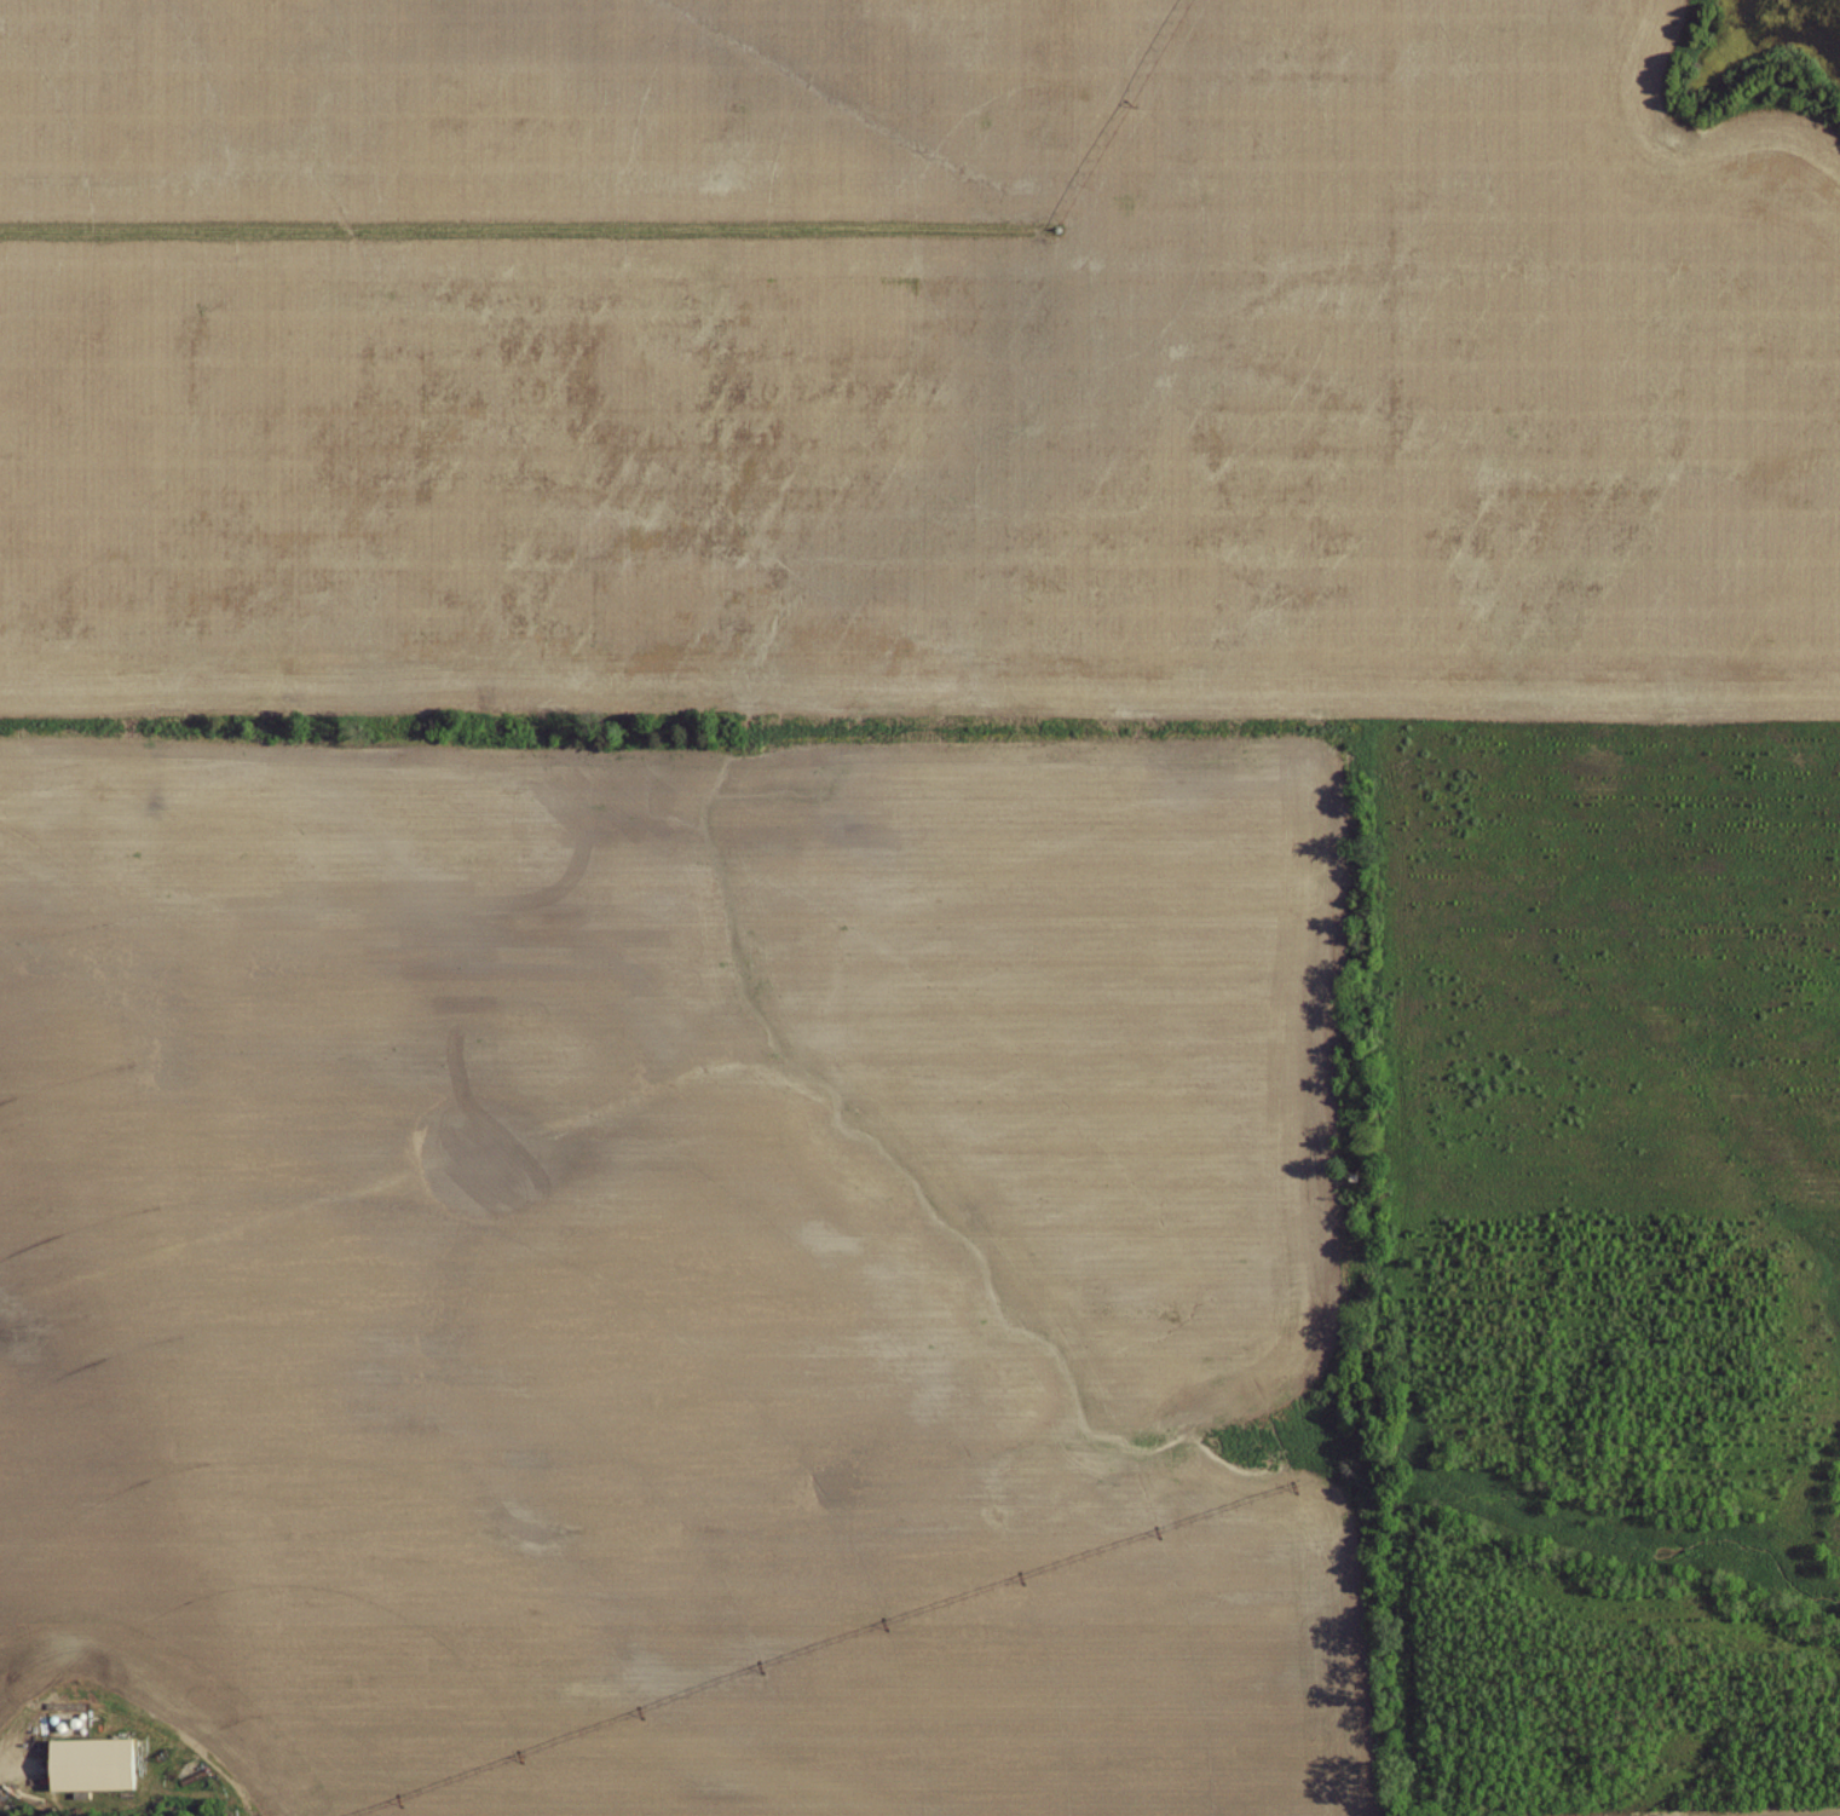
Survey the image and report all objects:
crop: (907, 357)
crop: (688, 1256)

